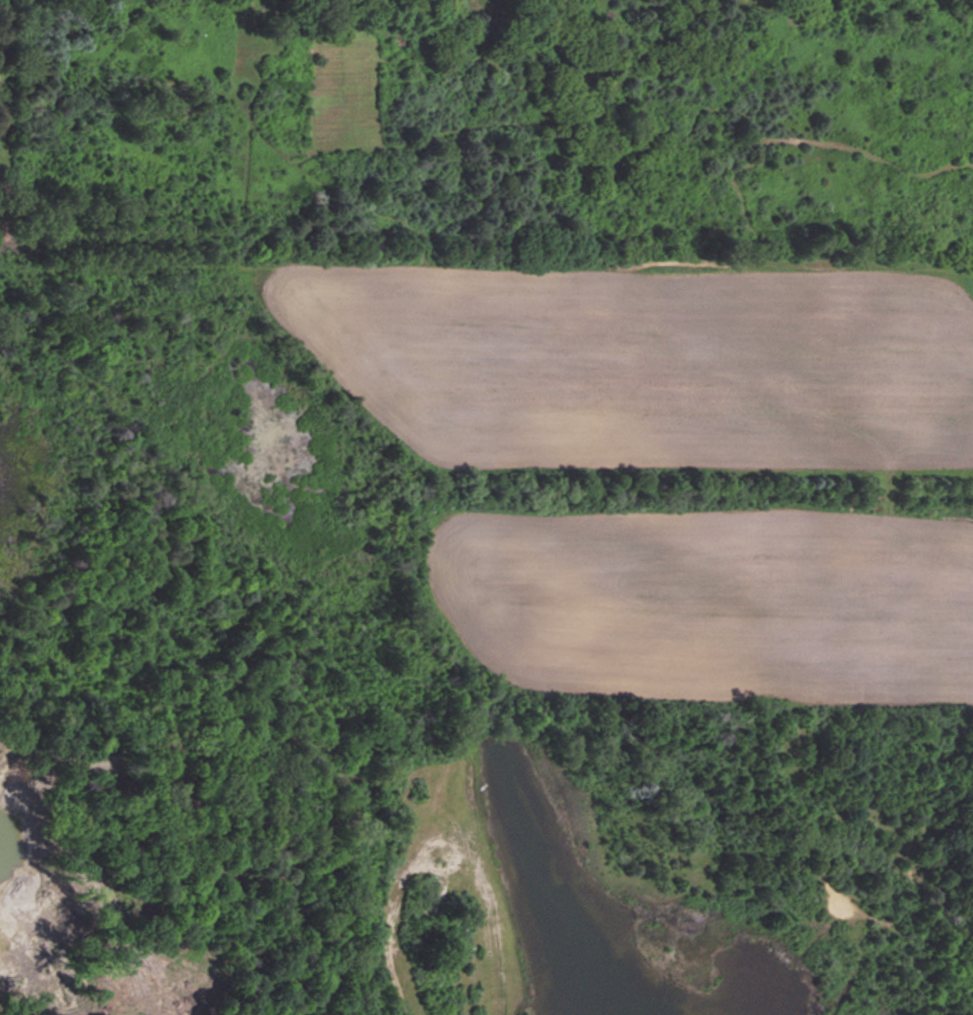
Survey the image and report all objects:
road: (398, 982)

